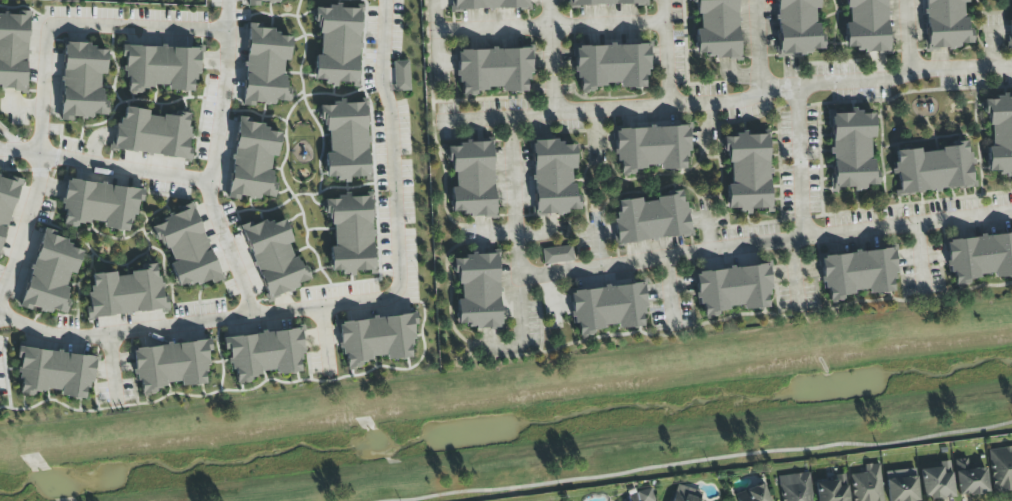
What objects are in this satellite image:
building: (259, 2)
building: (604, 2)
building: (489, 4)
building: (1011, 21)
road: (552, 23)
building: (945, 24)
building: (866, 25)
building: (797, 27)
building: (716, 28)
road: (437, 33)
road: (907, 39)
building: (337, 45)
road: (758, 48)
building: (13, 51)
building: (265, 66)
building: (610, 66)
building: (160, 68)
building: (492, 70)
road: (44, 72)
building: (401, 76)
building: (82, 81)
road: (842, 84)
road: (611, 109)
road: (477, 118)
building: (152, 133)
building: (999, 133)
building: (345, 140)
road: (95, 143)
building: (651, 148)
building: (851, 150)
road: (214, 161)
building: (252, 161)
road: (800, 164)
road: (105, 166)
building: (933, 169)
building: (747, 172)
building: (553, 177)
building: (471, 179)
building: (6, 204)
building: (650, 218)
building: (350, 234)
road: (500, 234)
road: (541, 234)
building: (186, 248)
road: (599, 248)
building: (557, 255)
building: (274, 257)
road: (670, 257)
road: (920, 257)
building: (979, 257)
road: (795, 273)
building: (858, 273)
building: (51, 274)
building: (732, 289)
road: (670, 290)
building: (477, 291)
building: (125, 293)
road: (524, 304)
road: (343, 305)
building: (607, 308)
building: (376, 338)
road: (325, 342)
building: (263, 353)
building: (170, 365)
road: (112, 370)
building: (55, 373)
road: (710, 459)
building: (1001, 469)
building: (969, 479)
building: (937, 481)
building: (867, 484)
building: (901, 485)
building: (795, 487)
building: (832, 489)
building: (682, 494)
building: (753, 494)
building: (644, 495)

